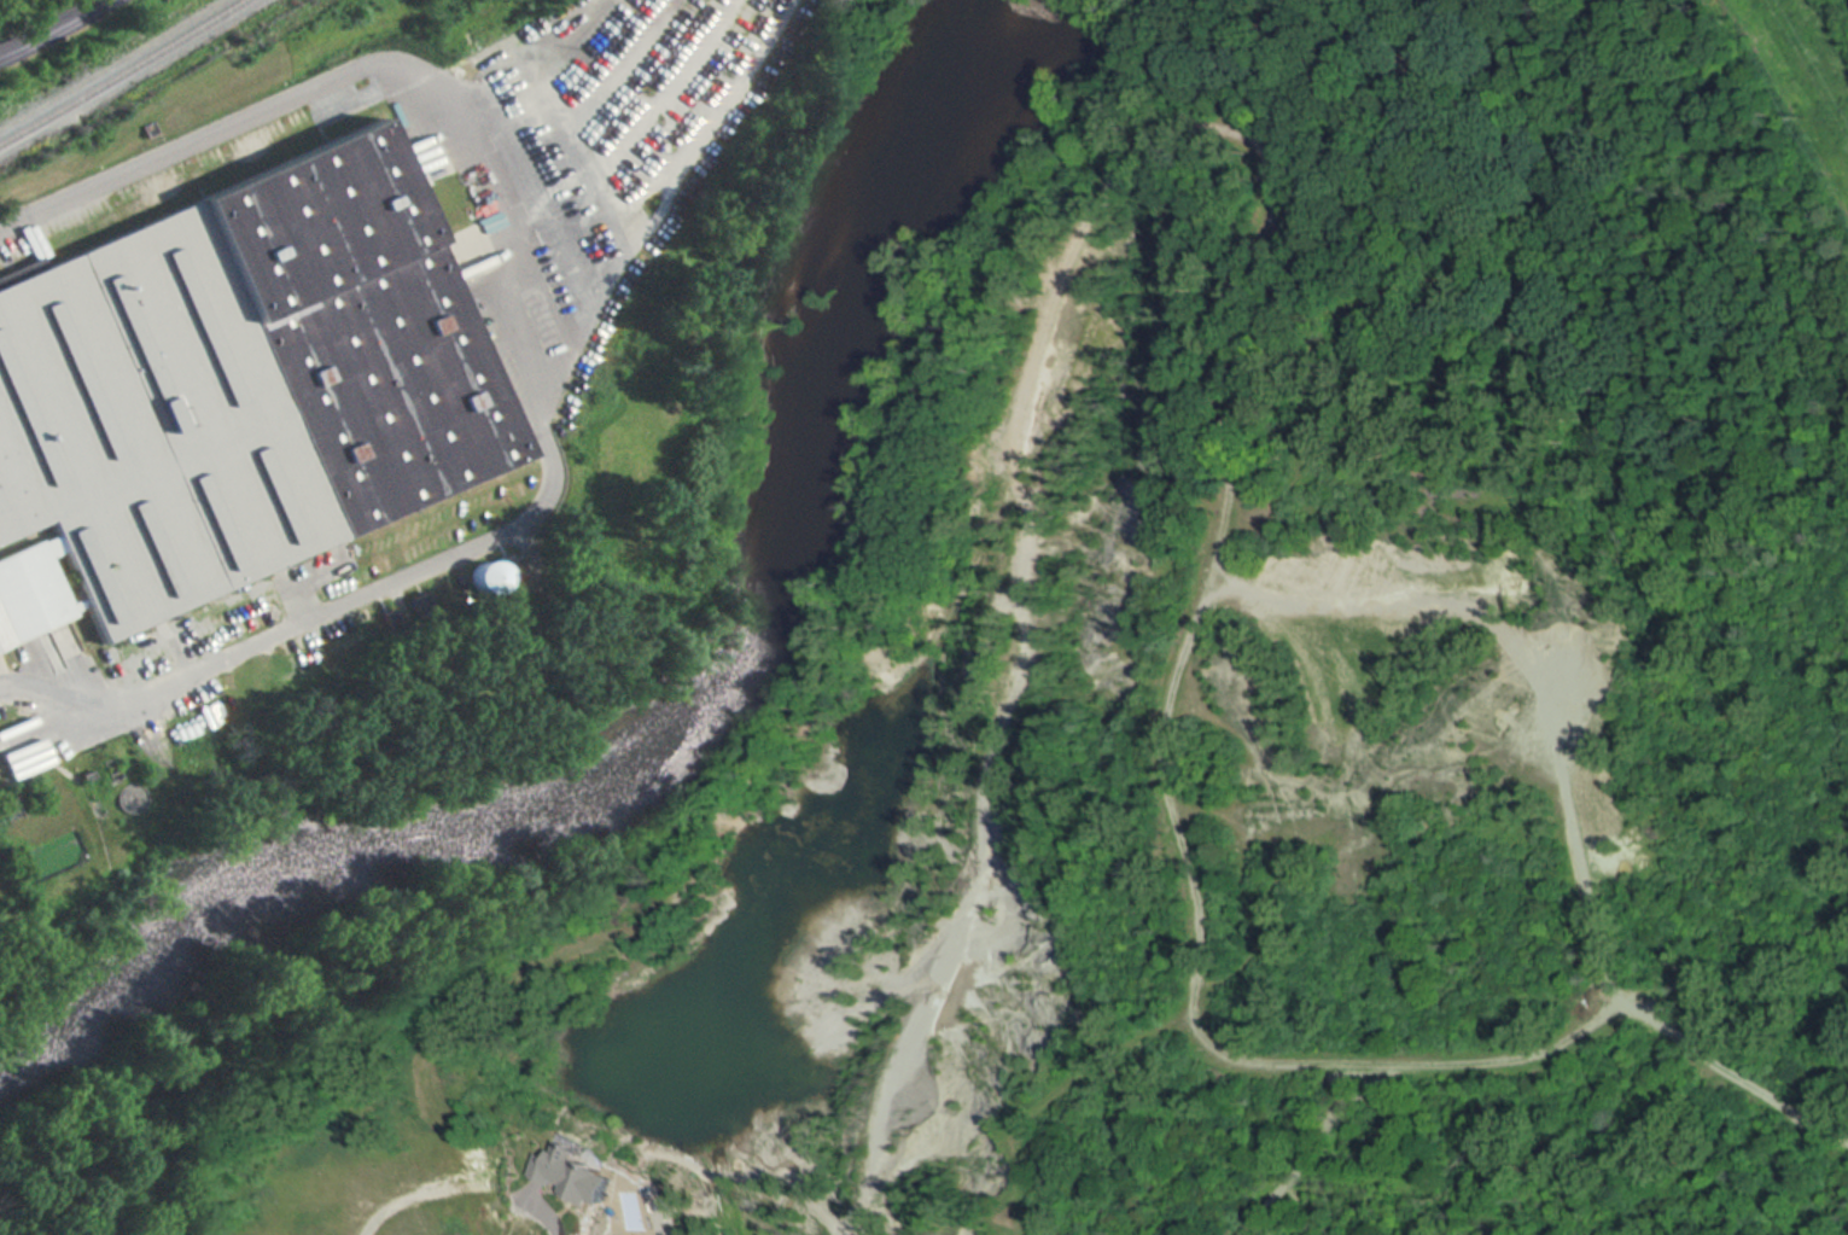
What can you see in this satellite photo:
road: (52, 28)
railway: (121, 71)
road: (1252, 252)
road: (555, 343)
building: (243, 383)
building: (489, 577)
building: (30, 592)
road: (1534, 691)
river: (692, 722)
road: (1528, 1055)
road: (1056, 1095)
building: (555, 1172)
road: (509, 1200)

